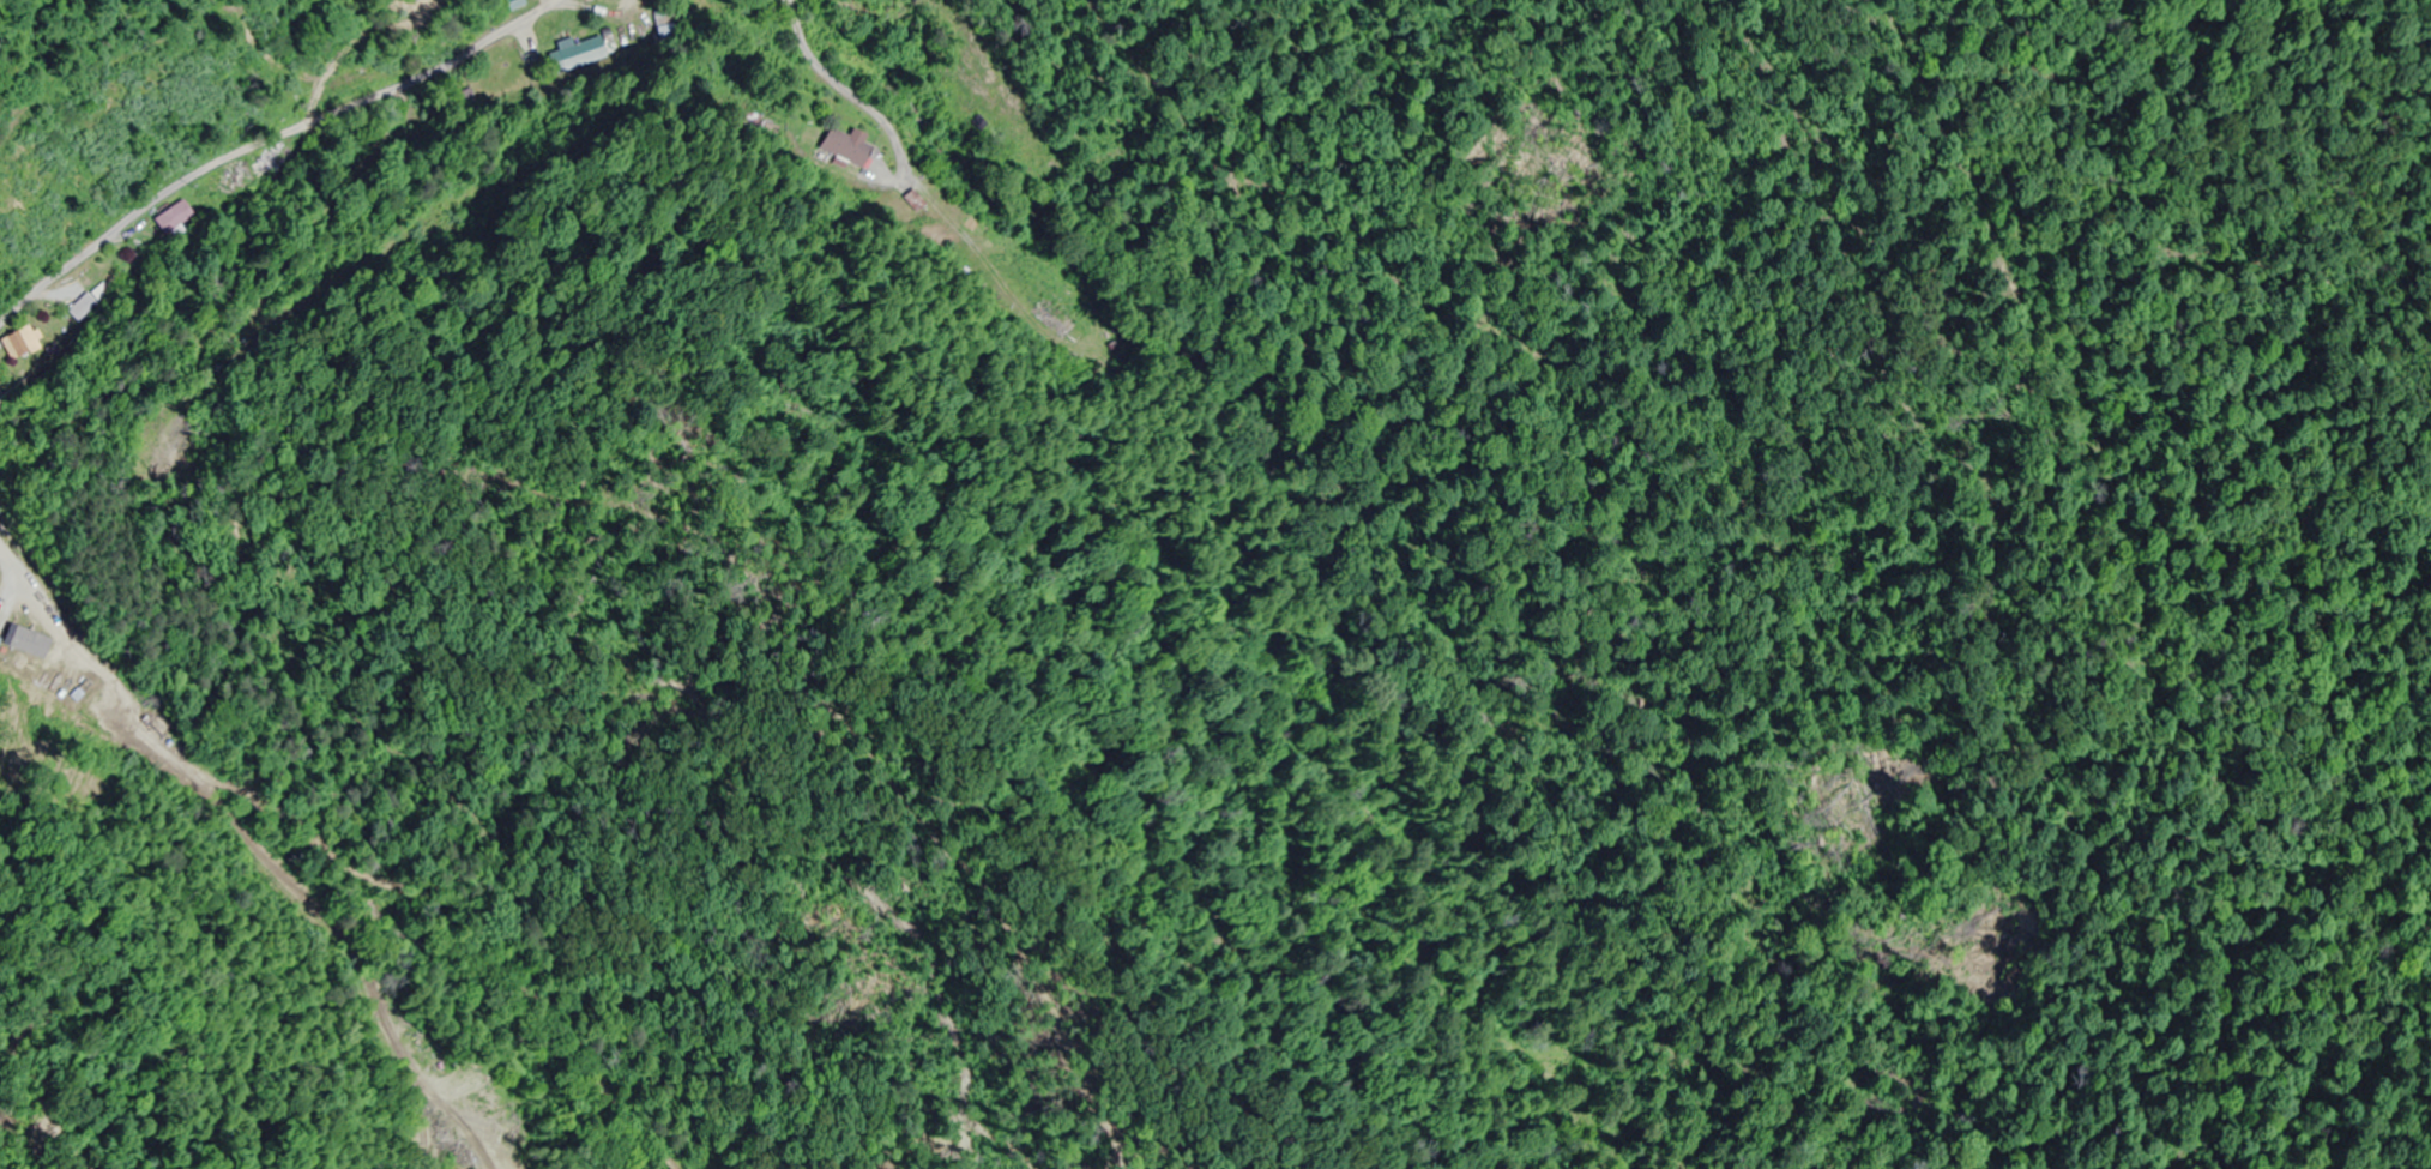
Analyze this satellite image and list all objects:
building: (674, 30)
building: (585, 54)
building: (1013, 103)
building: (844, 149)
building: (270, 164)
road: (271, 171)
building: (230, 183)
building: (923, 204)
building: (176, 218)
building: (85, 307)
building: (22, 343)
building: (16, 605)
road: (339, 826)

